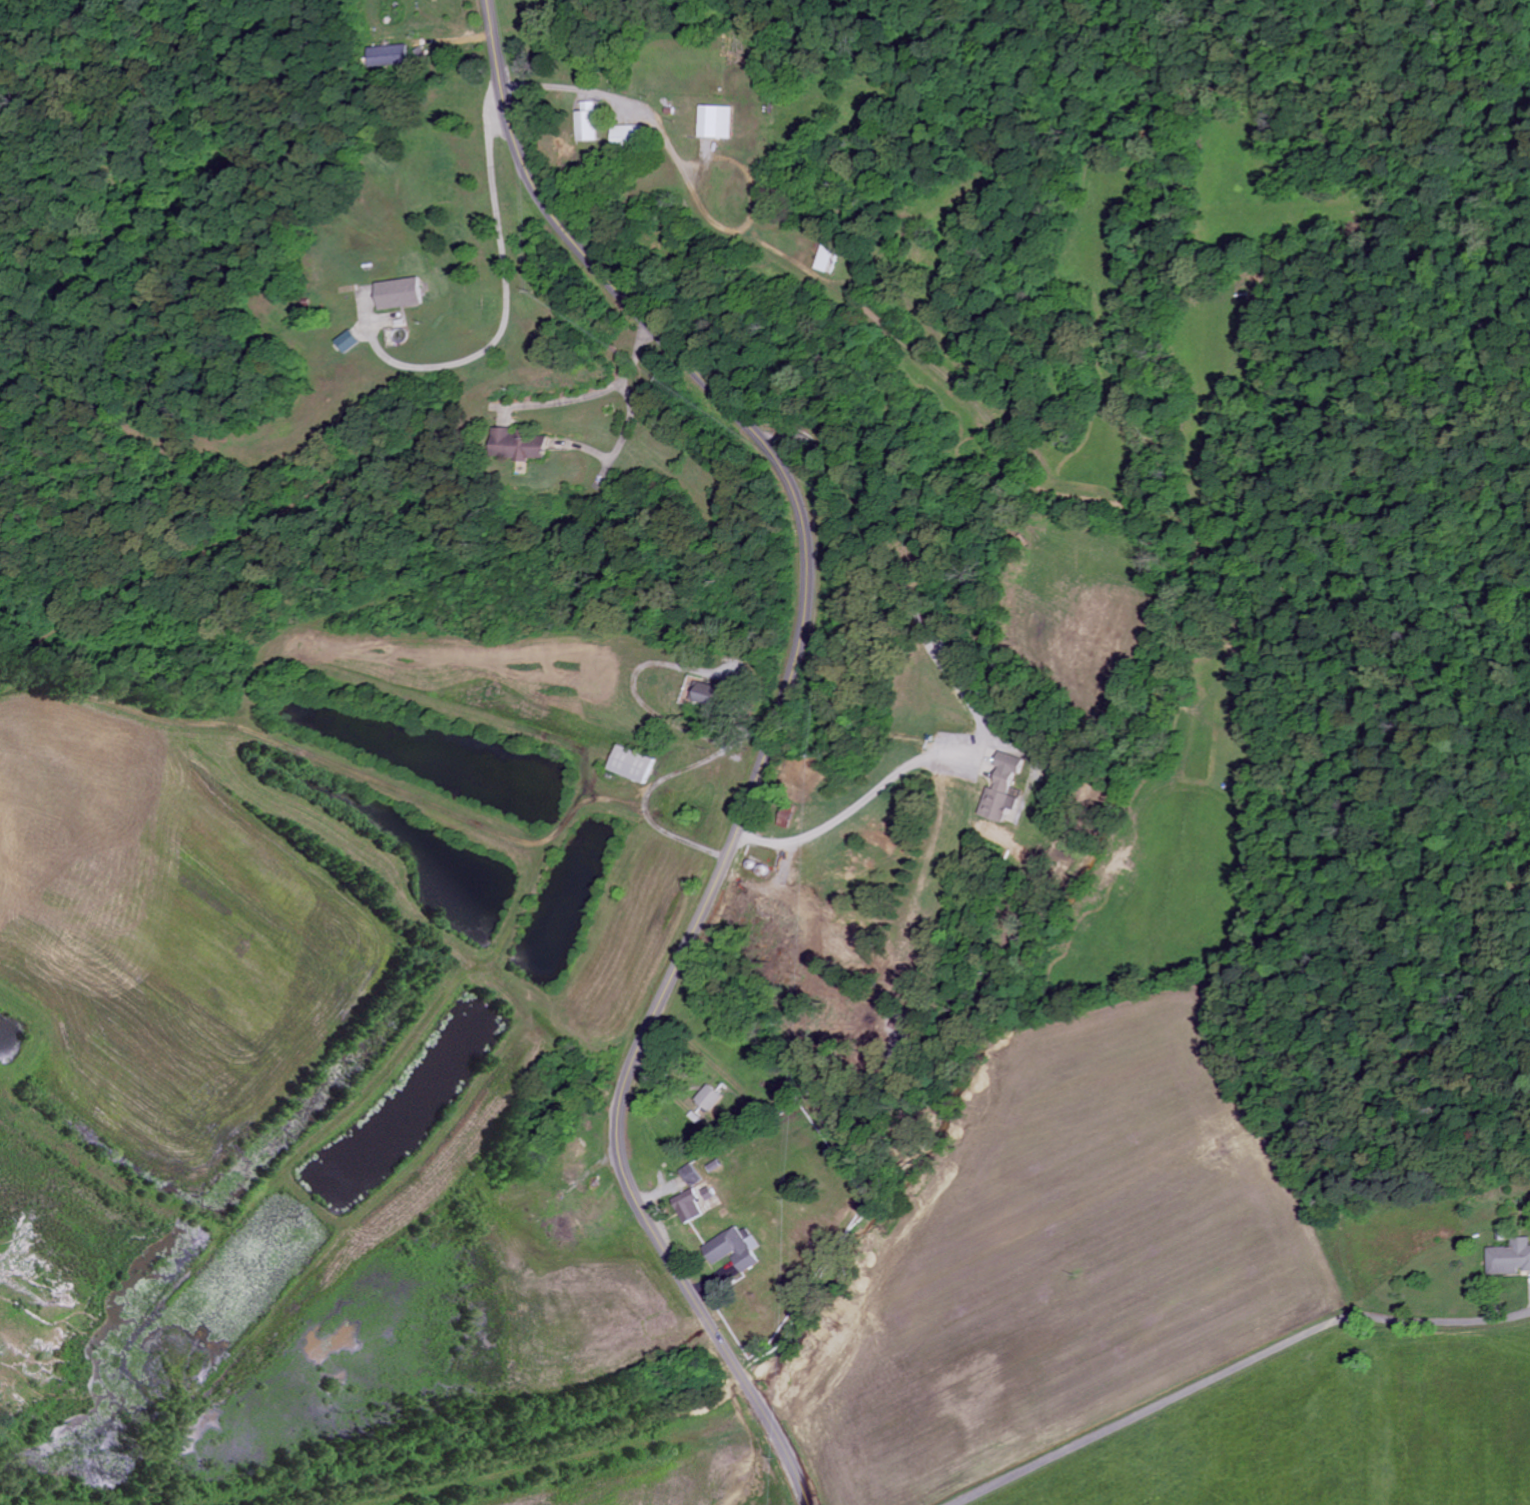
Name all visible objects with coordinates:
building: (387, 57)
building: (584, 123)
building: (714, 123)
building: (625, 137)
building: (827, 259)
building: (395, 294)
building: (345, 342)
building: (516, 445)
building: (705, 695)
road: (768, 737)
building: (631, 765)
building: (1003, 790)
building: (708, 1099)
building: (732, 1251)
building: (1509, 1259)
road: (1235, 1370)

